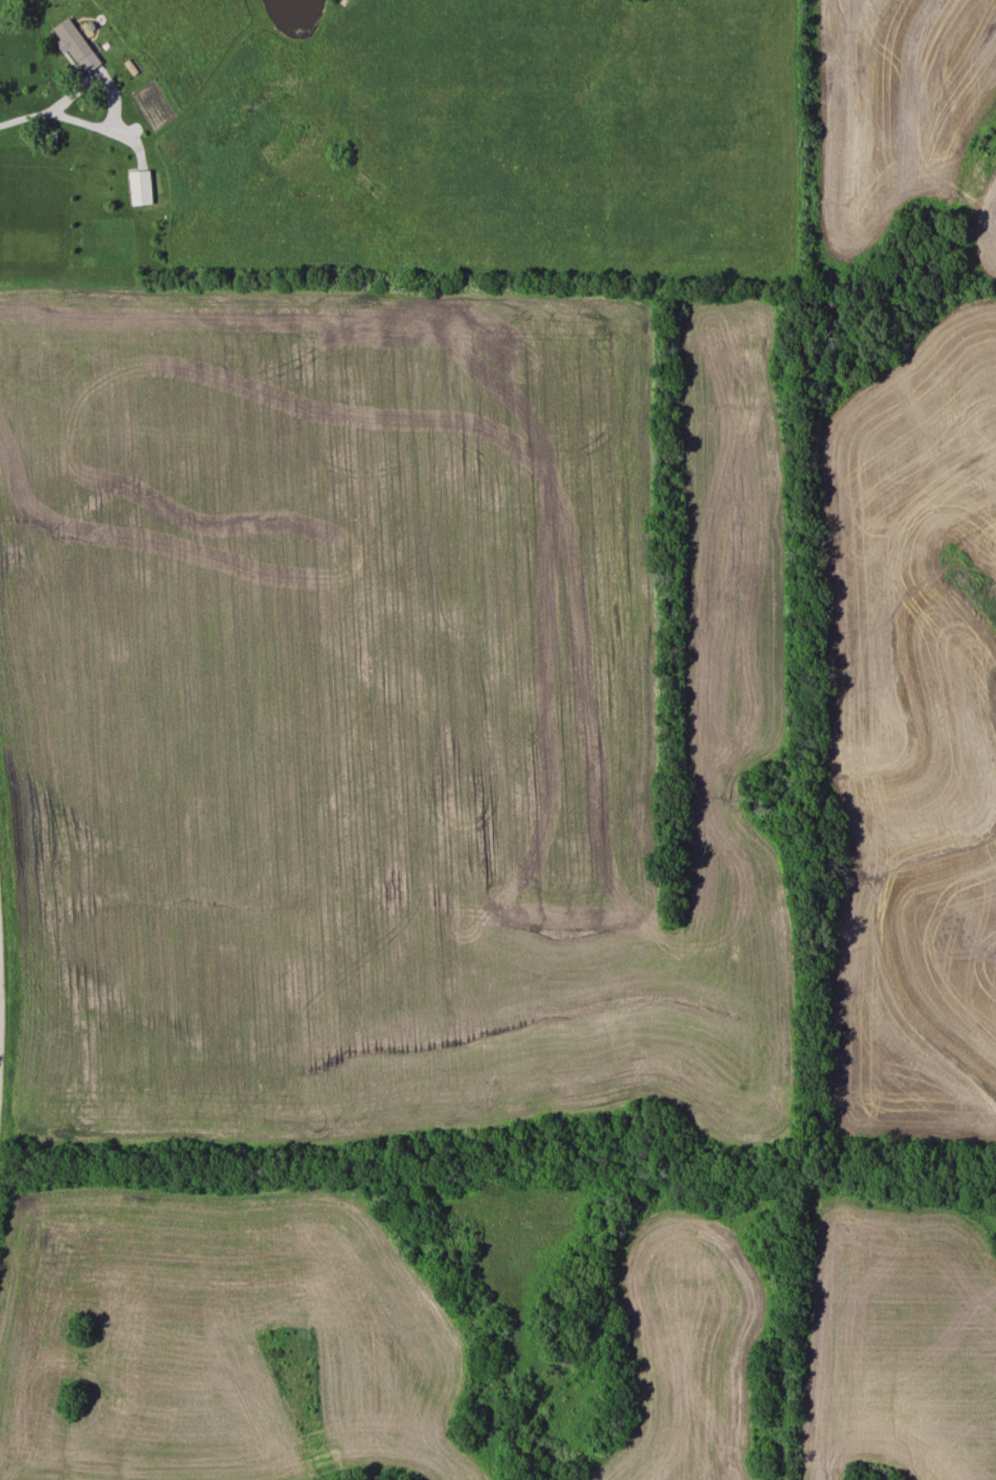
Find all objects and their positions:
road: (113, 104)
road: (24, 120)
building: (140, 189)

